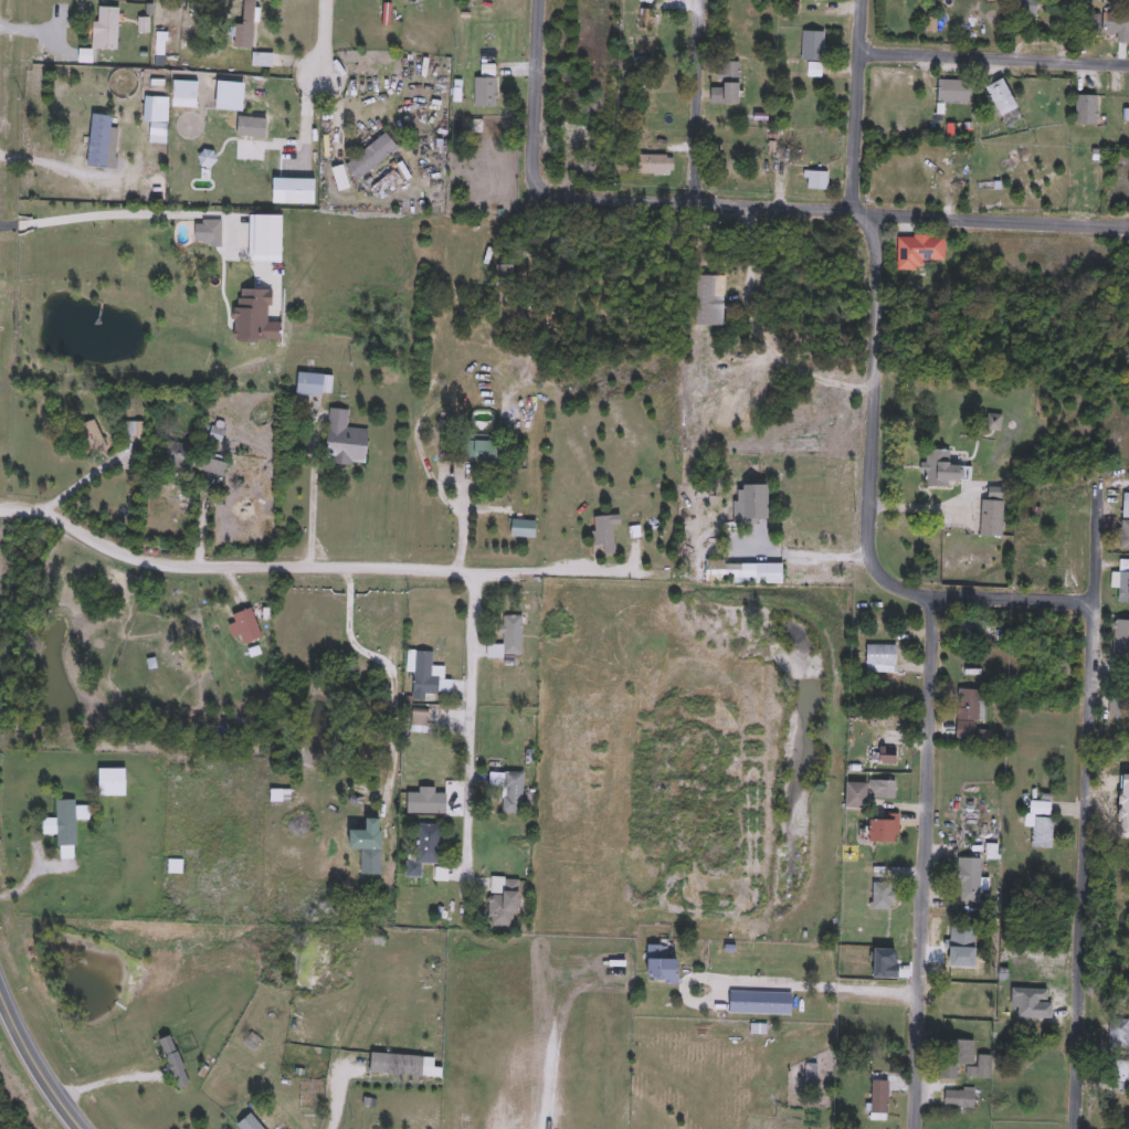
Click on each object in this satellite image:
building: (1024, 8)
building: (645, 15)
building: (1116, 22)
building: (245, 27)
building: (106, 28)
road: (324, 36)
road: (46, 38)
building: (814, 44)
building: (262, 60)
road: (994, 61)
building: (727, 84)
building: (953, 91)
building: (485, 92)
building: (1003, 97)
road: (696, 103)
road: (857, 108)
building: (1086, 109)
building: (337, 130)
building: (792, 141)
building: (371, 156)
building: (660, 161)
road: (55, 165)
building: (817, 180)
road: (124, 211)
road: (992, 223)
building: (212, 231)
road: (875, 246)
building: (921, 250)
building: (519, 318)
road: (761, 337)
building: (310, 383)
building: (130, 428)
building: (89, 433)
building: (345, 440)
building: (482, 449)
building: (196, 460)
building: (940, 468)
road: (81, 478)
road: (439, 489)
building: (706, 493)
road: (312, 494)
building: (752, 503)
road: (921, 507)
building: (992, 513)
building: (1125, 520)
road: (805, 551)
road: (224, 559)
road: (571, 570)
building: (743, 572)
building: (1123, 587)
building: (245, 626)
building: (972, 629)
building: (1120, 637)
building: (508, 639)
building: (882, 657)
road: (389, 668)
building: (429, 676)
building: (1118, 704)
building: (968, 714)
building: (420, 718)
road: (467, 748)
building: (887, 755)
building: (113, 782)
building: (509, 790)
road: (1087, 791)
building: (867, 792)
building: (426, 803)
building: (1041, 822)
building: (65, 826)
building: (884, 830)
building: (426, 847)
building: (371, 851)
road: (922, 861)
building: (971, 880)
building: (883, 897)
building: (503, 901)
building: (963, 946)
building: (662, 963)
road: (769, 983)
building: (761, 1002)
building: (1118, 1032)
building: (954, 1056)
building: (173, 1063)
building: (397, 1065)
building: (984, 1066)
road: (36, 1070)
road: (104, 1078)
road: (335, 1097)
building: (879, 1097)
building: (959, 1098)
building: (305, 1110)
building: (250, 1123)

